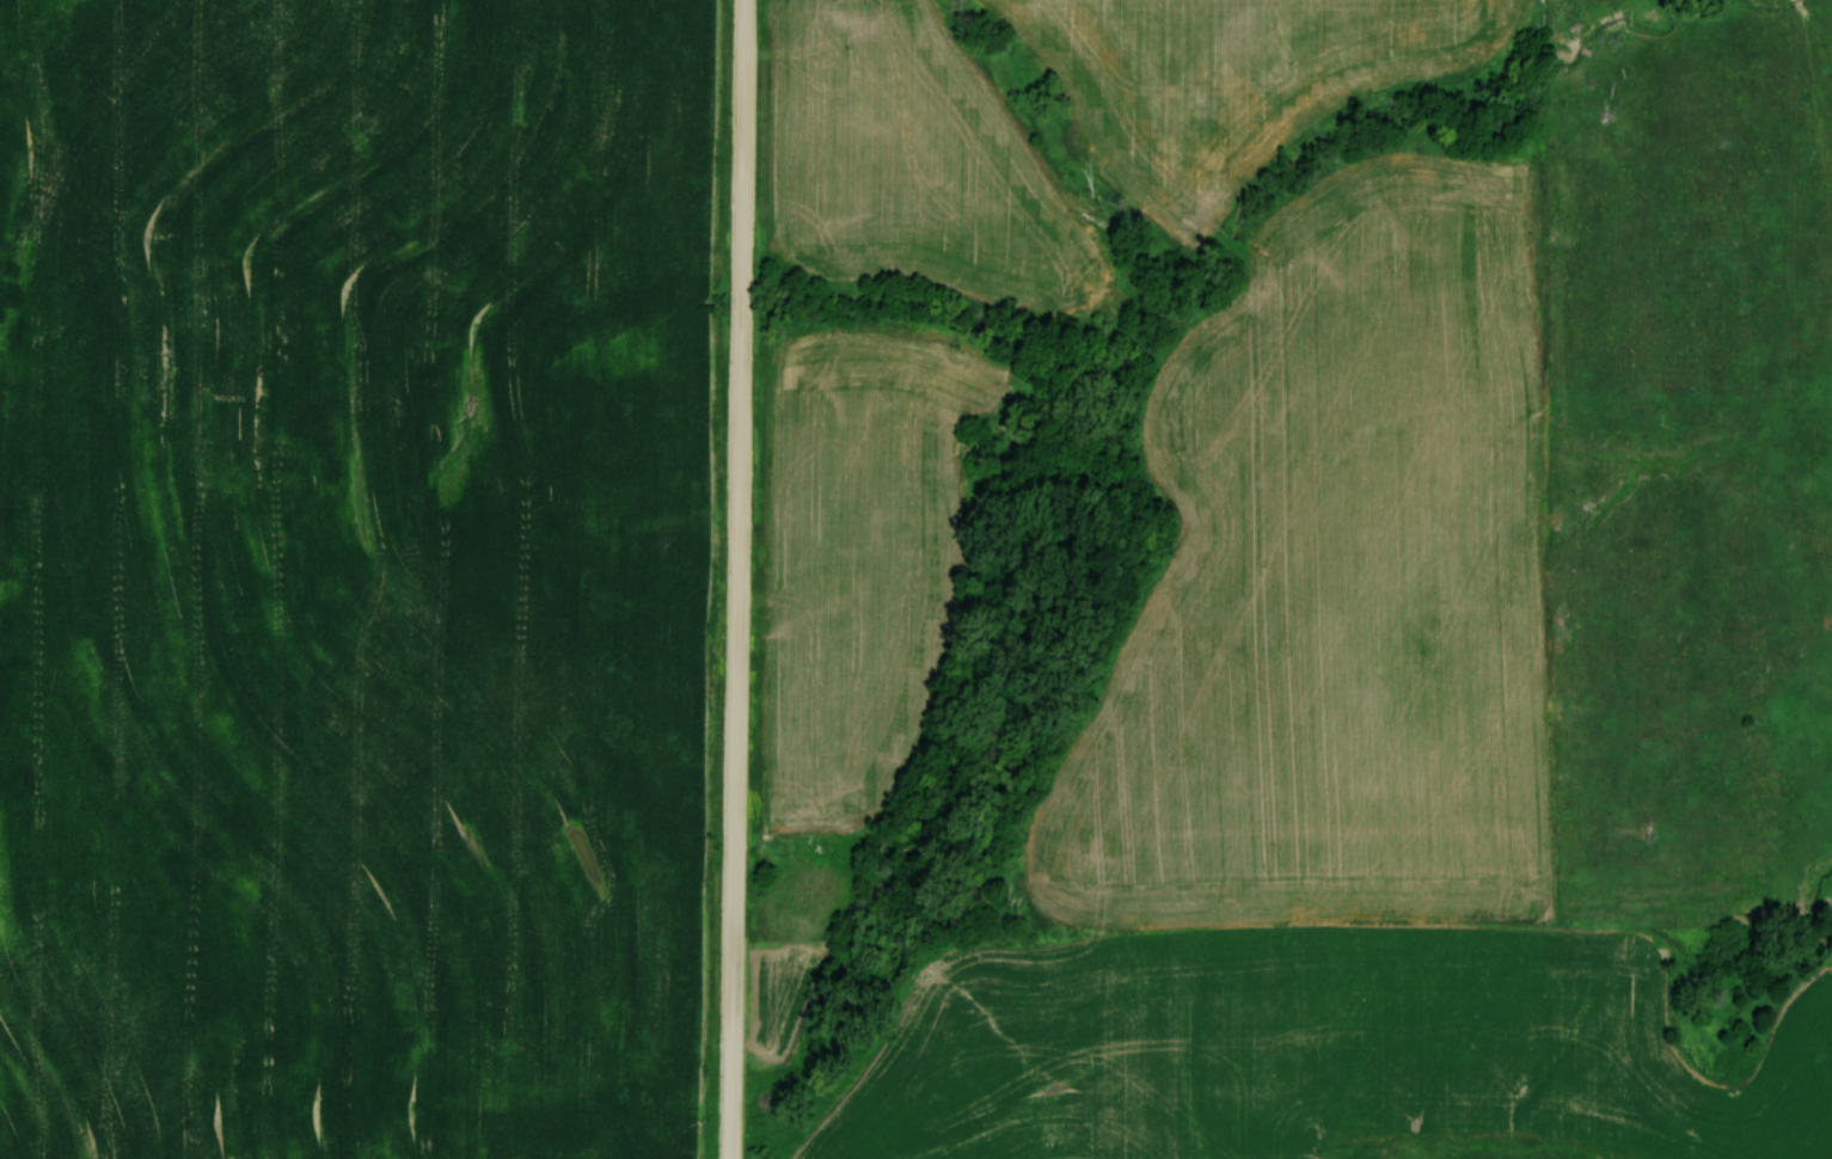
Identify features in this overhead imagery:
road: (735, 578)

